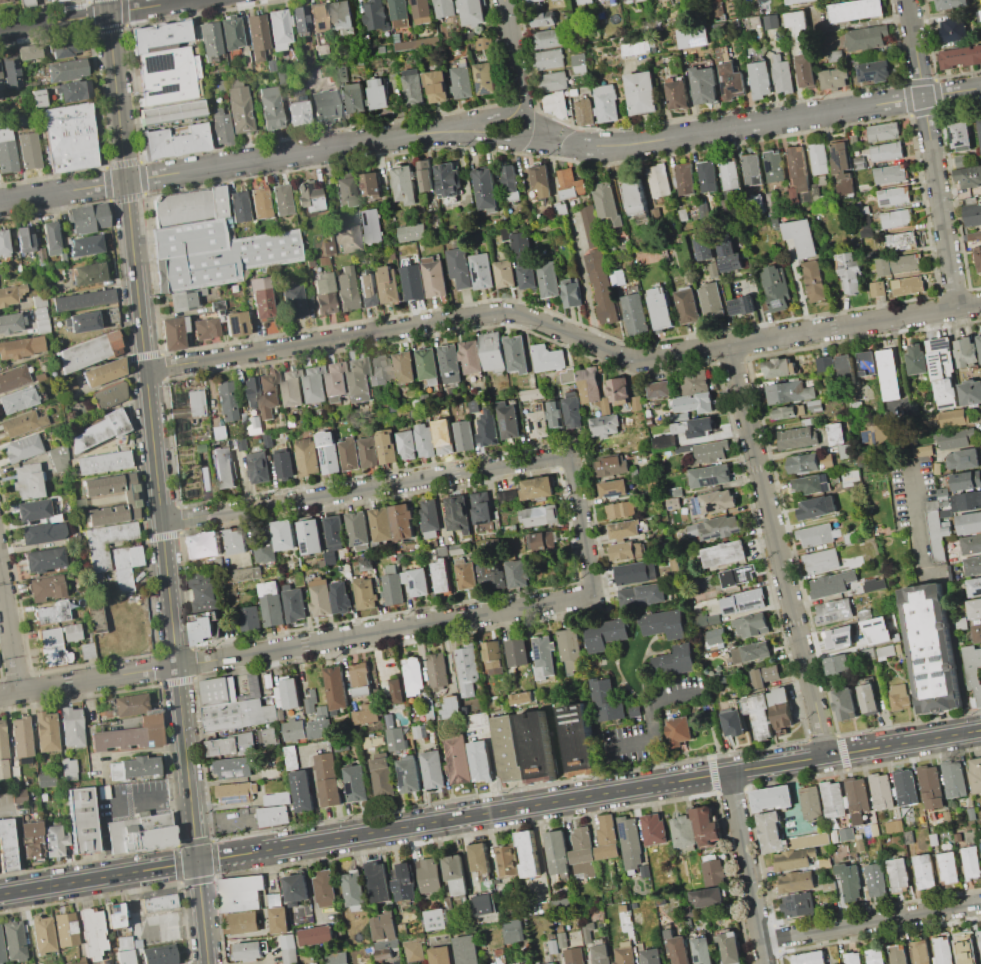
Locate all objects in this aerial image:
building: (4, 0)
building: (55, 0)
building: (627, 0)
building: (762, 0)
building: (534, 1)
building: (585, 1)
building: (798, 1)
building: (25, 3)
building: (951, 4)
building: (719, 7)
building: (444, 8)
building: (856, 9)
building: (422, 11)
building: (472, 11)
building: (400, 13)
road: (94, 15)
building: (978, 15)
building: (377, 16)
building: (544, 18)
building: (299, 19)
building: (316, 19)
building: (343, 20)
building: (754, 22)
building: (771, 22)
building: (799, 24)
building: (719, 26)
building: (279, 29)
building: (955, 29)
building: (231, 33)
building: (159, 36)
building: (257, 36)
building: (471, 36)
building: (396, 37)
building: (548, 37)
building: (697, 37)
building: (866, 38)
building: (209, 40)
building: (483, 42)
building: (416, 43)
building: (65, 48)
building: (636, 48)
building: (321, 49)
building: (382, 49)
building: (369, 51)
building: (29, 52)
road: (511, 53)
building: (722, 53)
building: (836, 55)
building: (960, 56)
building: (549, 58)
building: (361, 61)
building: (580, 64)
building: (65, 70)
building: (807, 71)
building: (875, 71)
building: (9, 73)
building: (346, 74)
building: (783, 74)
building: (168, 77)
building: (281, 78)
building: (486, 78)
building: (835, 78)
building: (760, 79)
building: (331, 80)
building: (463, 80)
building: (552, 81)
building: (732, 81)
building: (705, 84)
building: (437, 85)
building: (220, 86)
building: (414, 88)
road: (115, 90)
building: (72, 91)
building: (379, 93)
building: (642, 93)
building: (679, 94)
building: (357, 97)
building: (38, 98)
building: (557, 103)
building: (606, 103)
building: (324, 106)
building: (239, 108)
building: (270, 109)
building: (295, 110)
building: (584, 112)
building: (171, 113)
road: (496, 115)
road: (526, 117)
building: (20, 120)
road: (775, 120)
building: (979, 126)
building: (220, 127)
building: (175, 130)
building: (884, 131)
road: (548, 135)
building: (68, 136)
building: (961, 136)
road: (504, 138)
building: (855, 141)
building: (172, 142)
building: (28, 151)
building: (887, 151)
building: (7, 153)
road: (932, 154)
building: (820, 159)
building: (859, 159)
building: (962, 159)
road: (238, 161)
building: (775, 166)
building: (752, 169)
building: (843, 169)
building: (800, 171)
building: (730, 174)
building: (890, 174)
building: (426, 175)
building: (708, 176)
building: (968, 177)
building: (449, 179)
building: (686, 179)
building: (659, 180)
building: (511, 182)
building: (541, 183)
building: (372, 184)
building: (405, 184)
building: (570, 184)
building: (487, 189)
building: (345, 191)
building: (817, 193)
building: (636, 194)
building: (794, 195)
building: (894, 196)
building: (308, 197)
building: (605, 197)
building: (281, 199)
building: (261, 203)
building: (772, 203)
building: (239, 207)
building: (561, 209)
building: (862, 210)
building: (657, 212)
building: (705, 212)
building: (684, 214)
building: (972, 214)
building: (355, 216)
building: (88, 217)
building: (898, 218)
building: (776, 222)
road: (129, 223)
building: (372, 225)
building: (865, 225)
building: (591, 226)
building: (412, 232)
building: (506, 233)
building: (974, 235)
building: (802, 237)
building: (50, 238)
building: (24, 239)
building: (347, 239)
building: (901, 241)
building: (3, 244)
building: (84, 245)
building: (208, 245)
building: (522, 246)
building: (626, 246)
building: (328, 247)
building: (705, 248)
building: (728, 251)
building: (40, 254)
building: (978, 257)
building: (898, 264)
building: (459, 267)
building: (712, 269)
building: (482, 271)
building: (849, 272)
building: (88, 273)
building: (504, 273)
building: (528, 275)
building: (434, 277)
building: (617, 277)
building: (549, 278)
building: (814, 280)
building: (414, 282)
building: (388, 284)
building: (908, 285)
building: (601, 286)
building: (776, 287)
building: (233, 288)
building: (877, 288)
building: (346, 289)
building: (368, 290)
building: (572, 292)
building: (11, 294)
building: (324, 294)
building: (262, 297)
building: (711, 299)
building: (83, 300)
building: (292, 301)
building: (217, 305)
building: (687, 305)
building: (744, 305)
building: (661, 308)
building: (39, 312)
building: (635, 314)
building: (111, 315)
building: (81, 322)
building: (10, 323)
building: (233, 323)
building: (205, 329)
road: (563, 330)
building: (173, 332)
building: (979, 343)
building: (20, 347)
building: (492, 350)
building: (966, 351)
building: (89, 352)
building: (516, 353)
building: (471, 356)
building: (547, 358)
building: (917, 359)
building: (825, 363)
building: (868, 363)
building: (450, 364)
building: (428, 365)
building: (404, 367)
building: (779, 367)
road: (899, 369)
building: (380, 370)
building: (845, 371)
building: (103, 372)
building: (943, 372)
building: (889, 375)
building: (567, 376)
building: (13, 377)
building: (38, 377)
building: (358, 380)
building: (336, 381)
building: (64, 384)
building: (315, 384)
building: (589, 385)
building: (292, 387)
building: (830, 387)
building: (658, 389)
building: (619, 391)
building: (789, 392)
building: (971, 392)
building: (250, 393)
building: (269, 393)
building: (483, 393)
building: (694, 393)
building: (532, 394)
building: (109, 395)
building: (16, 400)
building: (227, 401)
building: (416, 403)
building: (636, 403)
building: (655, 404)
building: (472, 405)
building: (815, 405)
building: (190, 406)
building: (606, 406)
building: (394, 408)
building: (857, 409)
building: (573, 410)
building: (787, 412)
building: (658, 413)
building: (554, 414)
building: (394, 415)
building: (954, 417)
building: (509, 420)
building: (538, 421)
building: (813, 421)
building: (22, 423)
building: (255, 425)
building: (604, 425)
building: (694, 427)
building: (488, 428)
building: (101, 430)
building: (217, 433)
building: (836, 433)
building: (464, 435)
building: (797, 437)
building: (880, 437)
building: (955, 438)
building: (445, 439)
building: (269, 440)
building: (425, 440)
building: (663, 442)
building: (243, 444)
building: (406, 445)
building: (386, 446)
building: (23, 448)
building: (199, 449)
building: (846, 450)
building: (922, 450)
building: (369, 451)
building: (711, 451)
building: (349, 454)
building: (308, 456)
building: (330, 458)
building: (861, 458)
building: (963, 459)
building: (103, 462)
building: (810, 462)
building: (284, 463)
building: (611, 464)
building: (259, 467)
building: (224, 468)
building: (937, 468)
building: (42, 471)
building: (710, 476)
building: (203, 479)
building: (966, 480)
building: (812, 483)
building: (654, 486)
road: (366, 488)
building: (537, 488)
building: (614, 488)
parking lot: (911, 489)
building: (678, 492)
building: (943, 495)
building: (509, 496)
building: (130, 500)
building: (966, 501)
building: (713, 502)
building: (817, 507)
building: (621, 509)
building: (483, 510)
building: (37, 511)
building: (457, 512)
building: (945, 513)
building: (540, 515)
building: (429, 518)
building: (403, 521)
building: (969, 522)
building: (382, 524)
road: (582, 524)
building: (721, 527)
building: (358, 529)
building: (623, 530)
building: (877, 530)
building: (335, 532)
building: (37, 534)
building: (284, 534)
building: (817, 534)
building: (311, 535)
building: (937, 535)
building: (71, 536)
building: (850, 536)
building: (235, 541)
building: (537, 541)
building: (971, 544)
building: (203, 545)
building: (264, 547)
building: (457, 549)
building: (621, 551)
road: (778, 551)
building: (114, 552)
building: (723, 553)
building: (331, 557)
building: (953, 558)
building: (44, 560)
building: (821, 560)
building: (367, 564)
building: (674, 565)
building: (972, 565)
building: (344, 571)
building: (635, 573)
building: (243, 574)
building: (465, 574)
building: (518, 574)
building: (442, 575)
building: (737, 575)
building: (404, 577)
building: (492, 578)
building: (418, 581)
building: (832, 583)
building: (874, 584)
building: (974, 586)
building: (45, 587)
building: (392, 587)
building: (204, 591)
road: (945, 591)
building: (365, 593)
building: (642, 594)
building: (709, 594)
building: (321, 596)
building: (341, 600)
building: (744, 601)
building: (272, 603)
building: (294, 603)
building: (974, 608)
building: (834, 611)
building: (53, 612)
road: (169, 614)
building: (865, 614)
building: (96, 615)
building: (248, 618)
building: (890, 618)
building: (706, 619)
building: (961, 623)
building: (665, 624)
building: (752, 625)
building: (206, 626)
building: (876, 630)
building: (70, 632)
building: (976, 632)
building: (607, 634)
road: (9, 635)
building: (715, 636)
building: (839, 637)
road: (296, 645)
building: (52, 648)
building: (931, 648)
building: (571, 649)
building: (899, 649)
building: (87, 651)
building: (887, 651)
building: (518, 652)
building: (751, 652)
building: (866, 654)
road: (377, 655)
building: (544, 656)
building: (493, 657)
building: (675, 661)
building: (837, 664)
building: (468, 669)
building: (437, 672)
building: (973, 672)
road: (243, 673)
building: (765, 676)
building: (414, 677)
building: (360, 679)
building: (337, 688)
building: (397, 691)
building: (288, 693)
building: (868, 697)
building: (899, 697)
building: (522, 698)
building: (607, 700)
building: (311, 701)
building: (845, 703)
building: (131, 705)
building: (231, 706)
building: (451, 707)
building: (781, 708)
building: (635, 711)
building: (366, 713)
road: (649, 715)
building: (759, 715)
building: (478, 719)
building: (733, 719)
building: (320, 724)
building: (72, 727)
building: (294, 729)
building: (420, 730)
road: (712, 730)
building: (46, 731)
building: (679, 731)
building: (130, 735)
building: (394, 735)
building: (21, 739)
building: (579, 739)
building: (341, 743)
building: (232, 745)
building: (537, 747)
building: (505, 749)
building: (3, 754)
building: (292, 757)
building: (457, 759)
building: (481, 762)
road: (493, 767)
building: (134, 768)
building: (233, 768)
building: (68, 769)
building: (433, 770)
building: (409, 774)
building: (975, 775)
building: (382, 777)
building: (954, 778)
building: (328, 779)
building: (45, 780)
building: (356, 784)
building: (905, 786)
building: (930, 786)
building: (302, 791)
building: (881, 791)
building: (237, 792)
building: (19, 797)
building: (42, 797)
road: (145, 797)
building: (278, 798)
building: (772, 798)
building: (834, 799)
building: (857, 799)
building: (811, 803)
road: (490, 812)
building: (972, 813)
road: (239, 815)
building: (273, 815)
building: (947, 817)
building: (81, 819)
building: (923, 820)
building: (706, 825)
building: (894, 826)
building: (875, 829)
building: (655, 830)
building: (771, 831)
building: (140, 832)
building: (685, 832)
building: (848, 834)
building: (910, 837)
building: (958, 837)
building: (607, 838)
building: (629, 838)
building: (934, 839)
building: (31, 840)
building: (54, 840)
building: (809, 840)
building: (980, 840)
road: (15, 843)
building: (860, 845)
building: (6, 846)
building: (558, 851)
building: (583, 852)
building: (528, 854)
building: (480, 857)
building: (794, 859)
building: (508, 860)
traffic signals: (196, 861)
building: (825, 862)
building: (971, 862)
road: (747, 867)
building: (949, 867)
building: (645, 871)
building: (713, 871)
building: (924, 871)
building: (456, 874)
building: (429, 875)
building: (899, 875)
building: (876, 879)
road: (312, 881)
building: (796, 881)
building: (379, 882)
building: (847, 882)
building: (405, 883)
building: (297, 888)
building: (326, 888)
building: (355, 890)
building: (242, 893)
building: (275, 896)
building: (708, 898)
building: (159, 903)
building: (798, 904)
building: (561, 905)
building: (635, 905)
building: (546, 907)
building: (689, 910)
building: (114, 915)
building: (488, 917)
building: (434, 919)
building: (281, 920)
building: (243, 922)
road: (871, 922)
building: (688, 923)
road: (144, 924)
building: (385, 927)
building: (65, 929)
building: (514, 929)
building: (404, 930)
building: (588, 932)
building: (92, 933)
building: (42, 935)
building: (318, 935)
building: (979, 937)
building: (562, 939)
building: (416, 940)
building: (14, 941)
building: (553, 946)
building: (676, 947)
building: (730, 948)
building: (965, 948)
building: (2, 950)
building: (467, 950)
building: (943, 950)
building: (249, 951)
building: (702, 951)
building: (415, 952)
building: (920, 952)
building: (625, 953)
building: (385, 954)
building: (601, 954)
building: (897, 954)
building: (158, 955)
building: (290, 955)
building: (440, 955)
building: (652, 956)
building: (875, 956)
building: (124, 957)
building: (337, 958)
building: (808, 958)
building: (852, 958)
building: (80, 959)
building: (74, 962)
road: (256, 962)
building: (399, 962)
building: (576, 962)
building: (552, 963)

